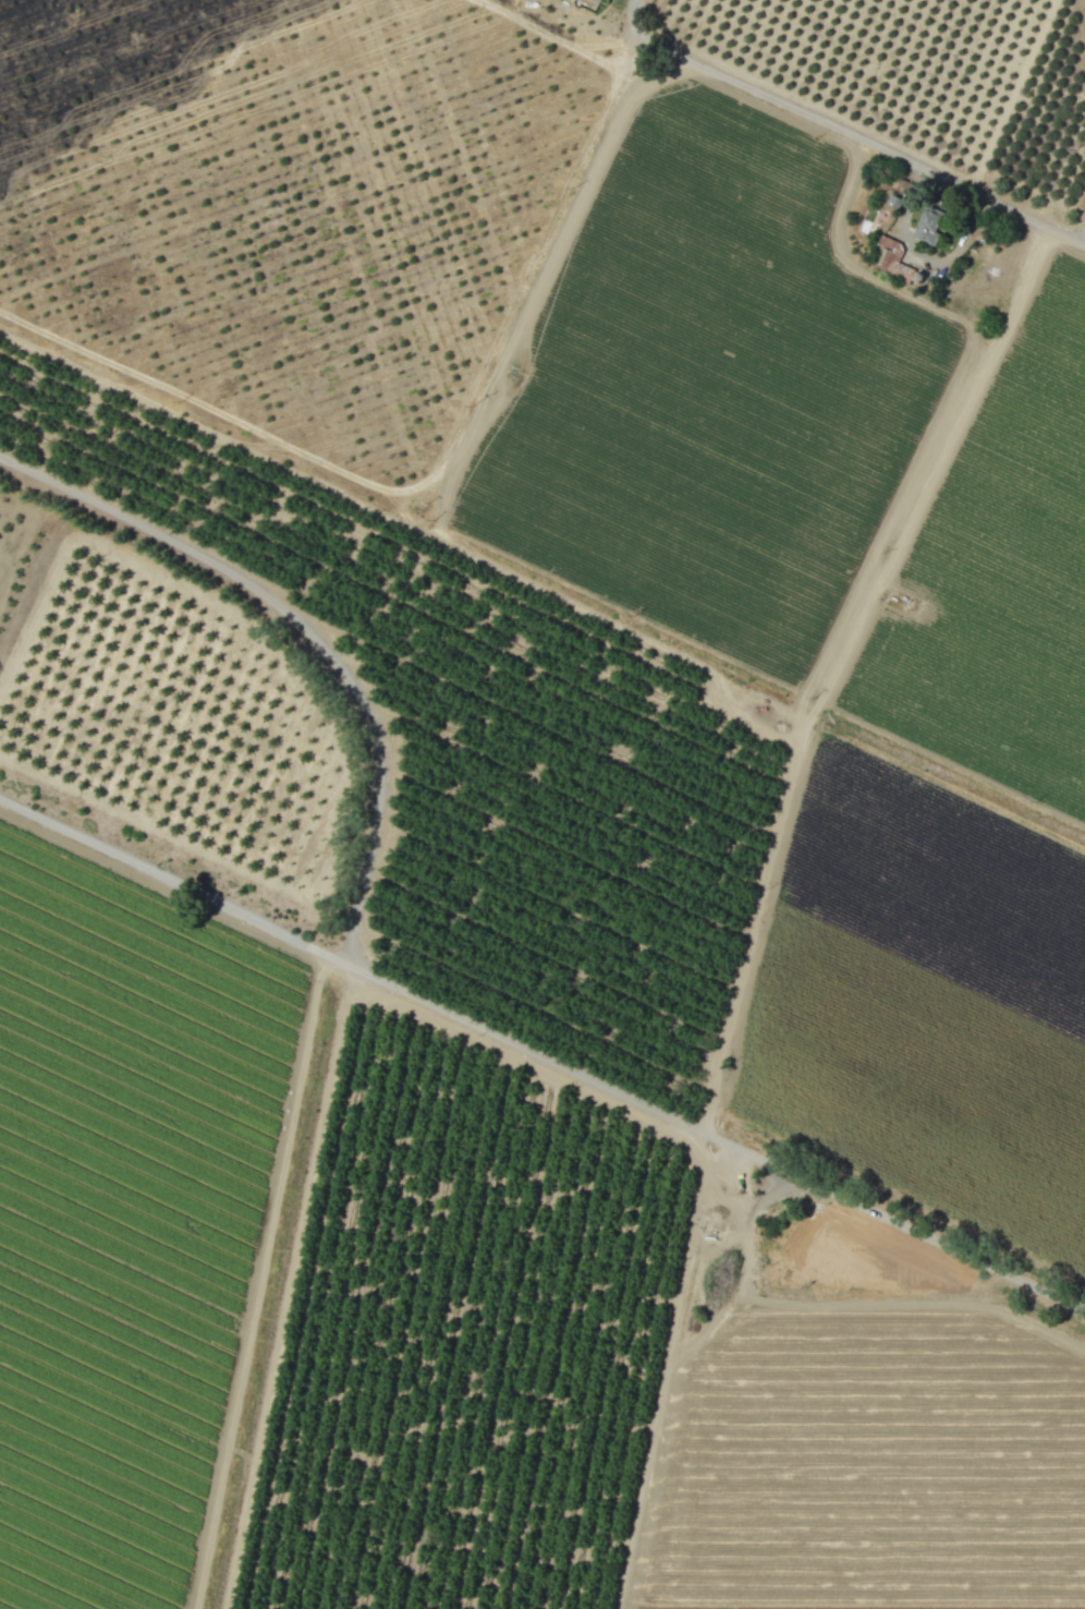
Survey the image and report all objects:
building: (596, 0)
road: (633, 17)
road: (864, 138)
building: (893, 201)
building: (927, 226)
road: (1084, 243)
road: (919, 256)
building: (889, 258)
road: (939, 462)
road: (308, 632)
road: (541, 1055)

